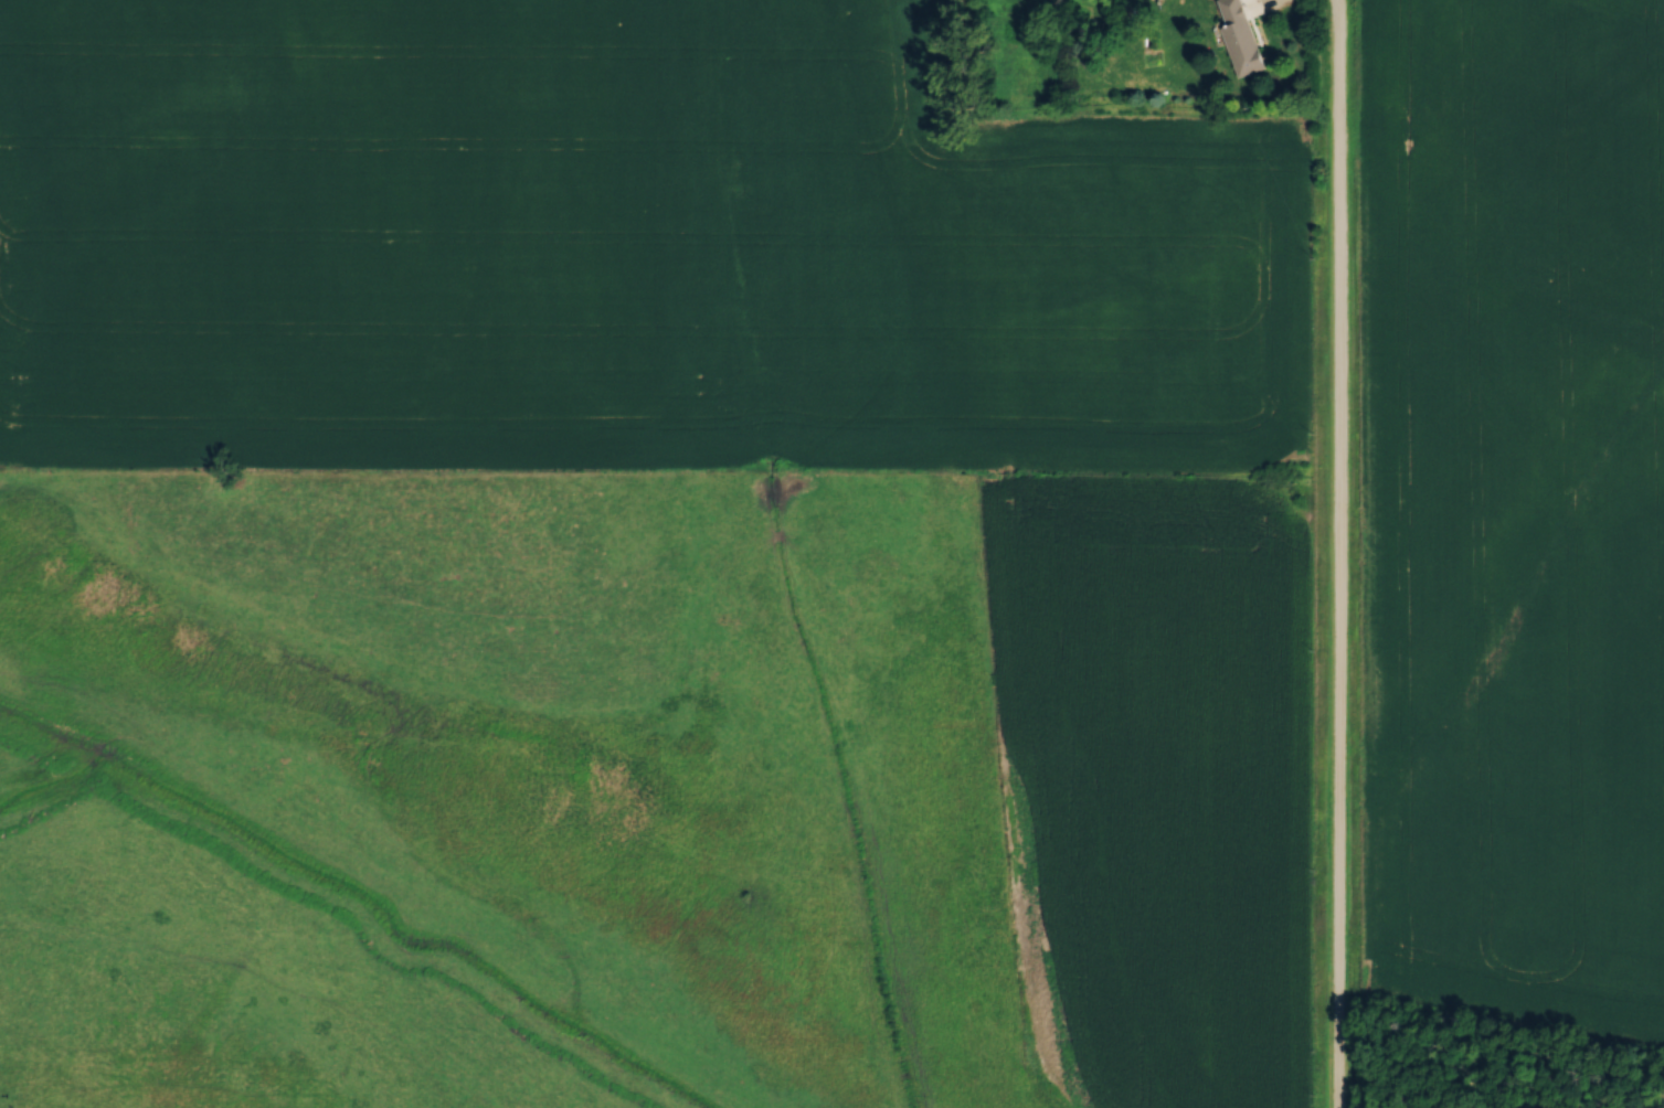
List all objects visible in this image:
building: (1240, 33)
road: (1335, 554)

